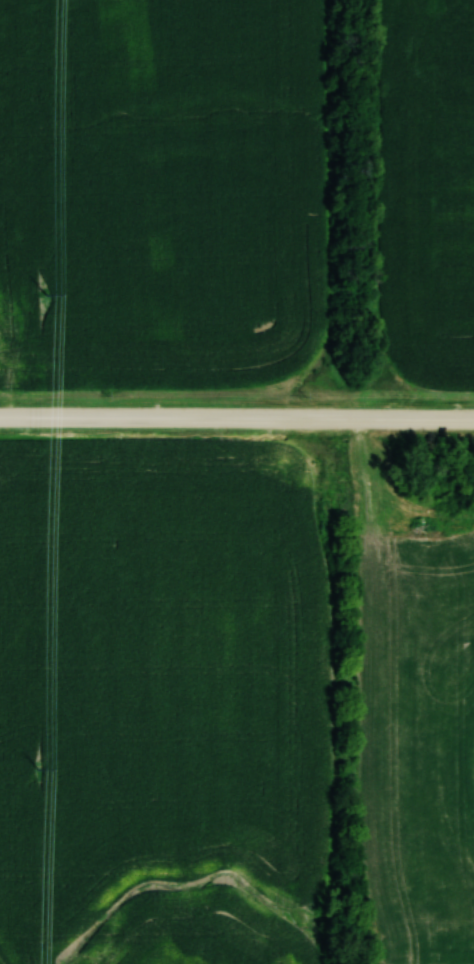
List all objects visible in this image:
power tower: (46, 300)
road: (236, 418)
power tower: (38, 737)

